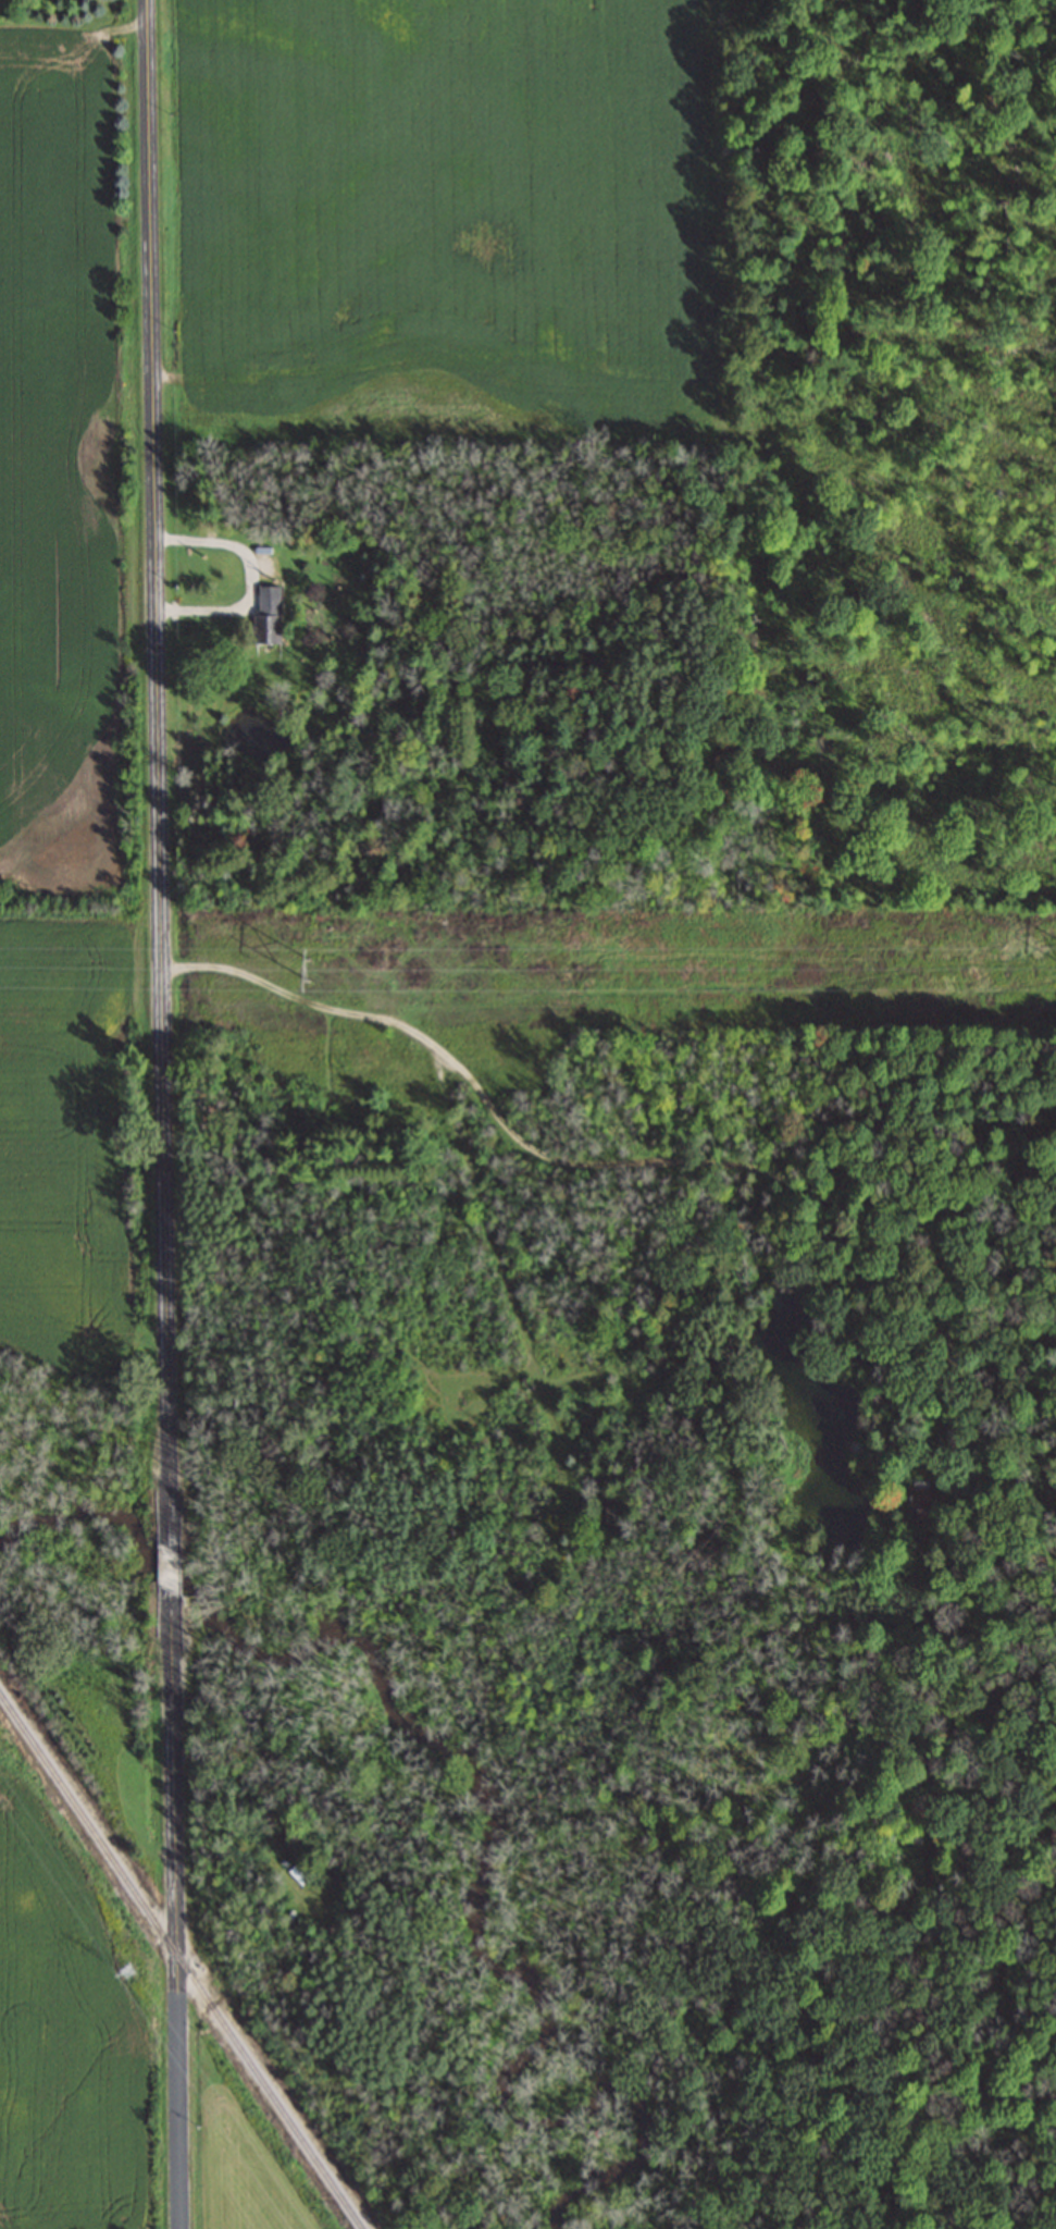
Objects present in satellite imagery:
road: (249, 577)
building: (265, 628)
road: (159, 774)
power tower: (307, 965)
road: (620, 1161)
road: (498, 1255)
building: (920, 1502)
building: (613, 1514)
road: (170, 1568)
river: (485, 1813)
road: (177, 1908)
railway: (181, 1962)

